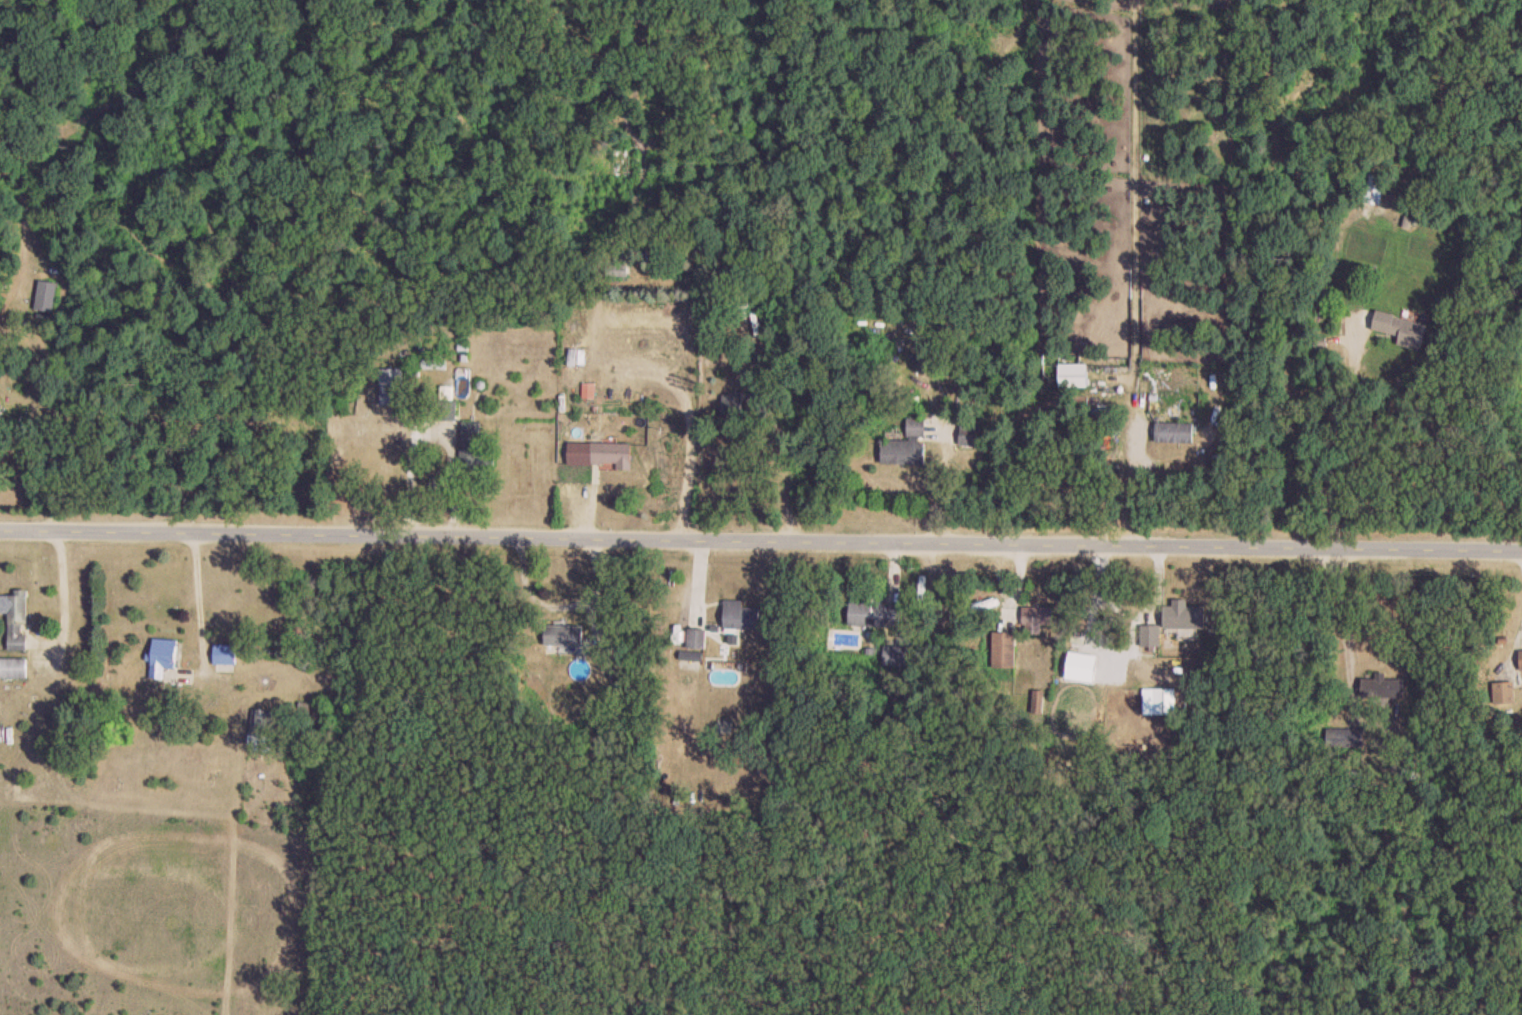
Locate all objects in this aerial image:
building: (1373, 191)
building: (46, 297)
building: (1401, 330)
building: (1072, 376)
building: (391, 388)
building: (447, 403)
building: (731, 405)
road: (687, 414)
building: (971, 431)
building: (1173, 433)
road: (1331, 433)
building: (907, 445)
building: (472, 448)
building: (612, 454)
road: (788, 460)
road: (945, 472)
road: (1129, 482)
road: (760, 533)
road: (64, 596)
road: (1343, 599)
road: (201, 610)
building: (874, 614)
building: (741, 617)
building: (1186, 617)
building: (15, 619)
building: (1035, 619)
building: (563, 636)
building: (1150, 636)
building: (163, 657)
building: (1521, 657)
building: (13, 668)
building: (1389, 688)
building: (1502, 693)
building: (1158, 701)
building: (263, 731)

